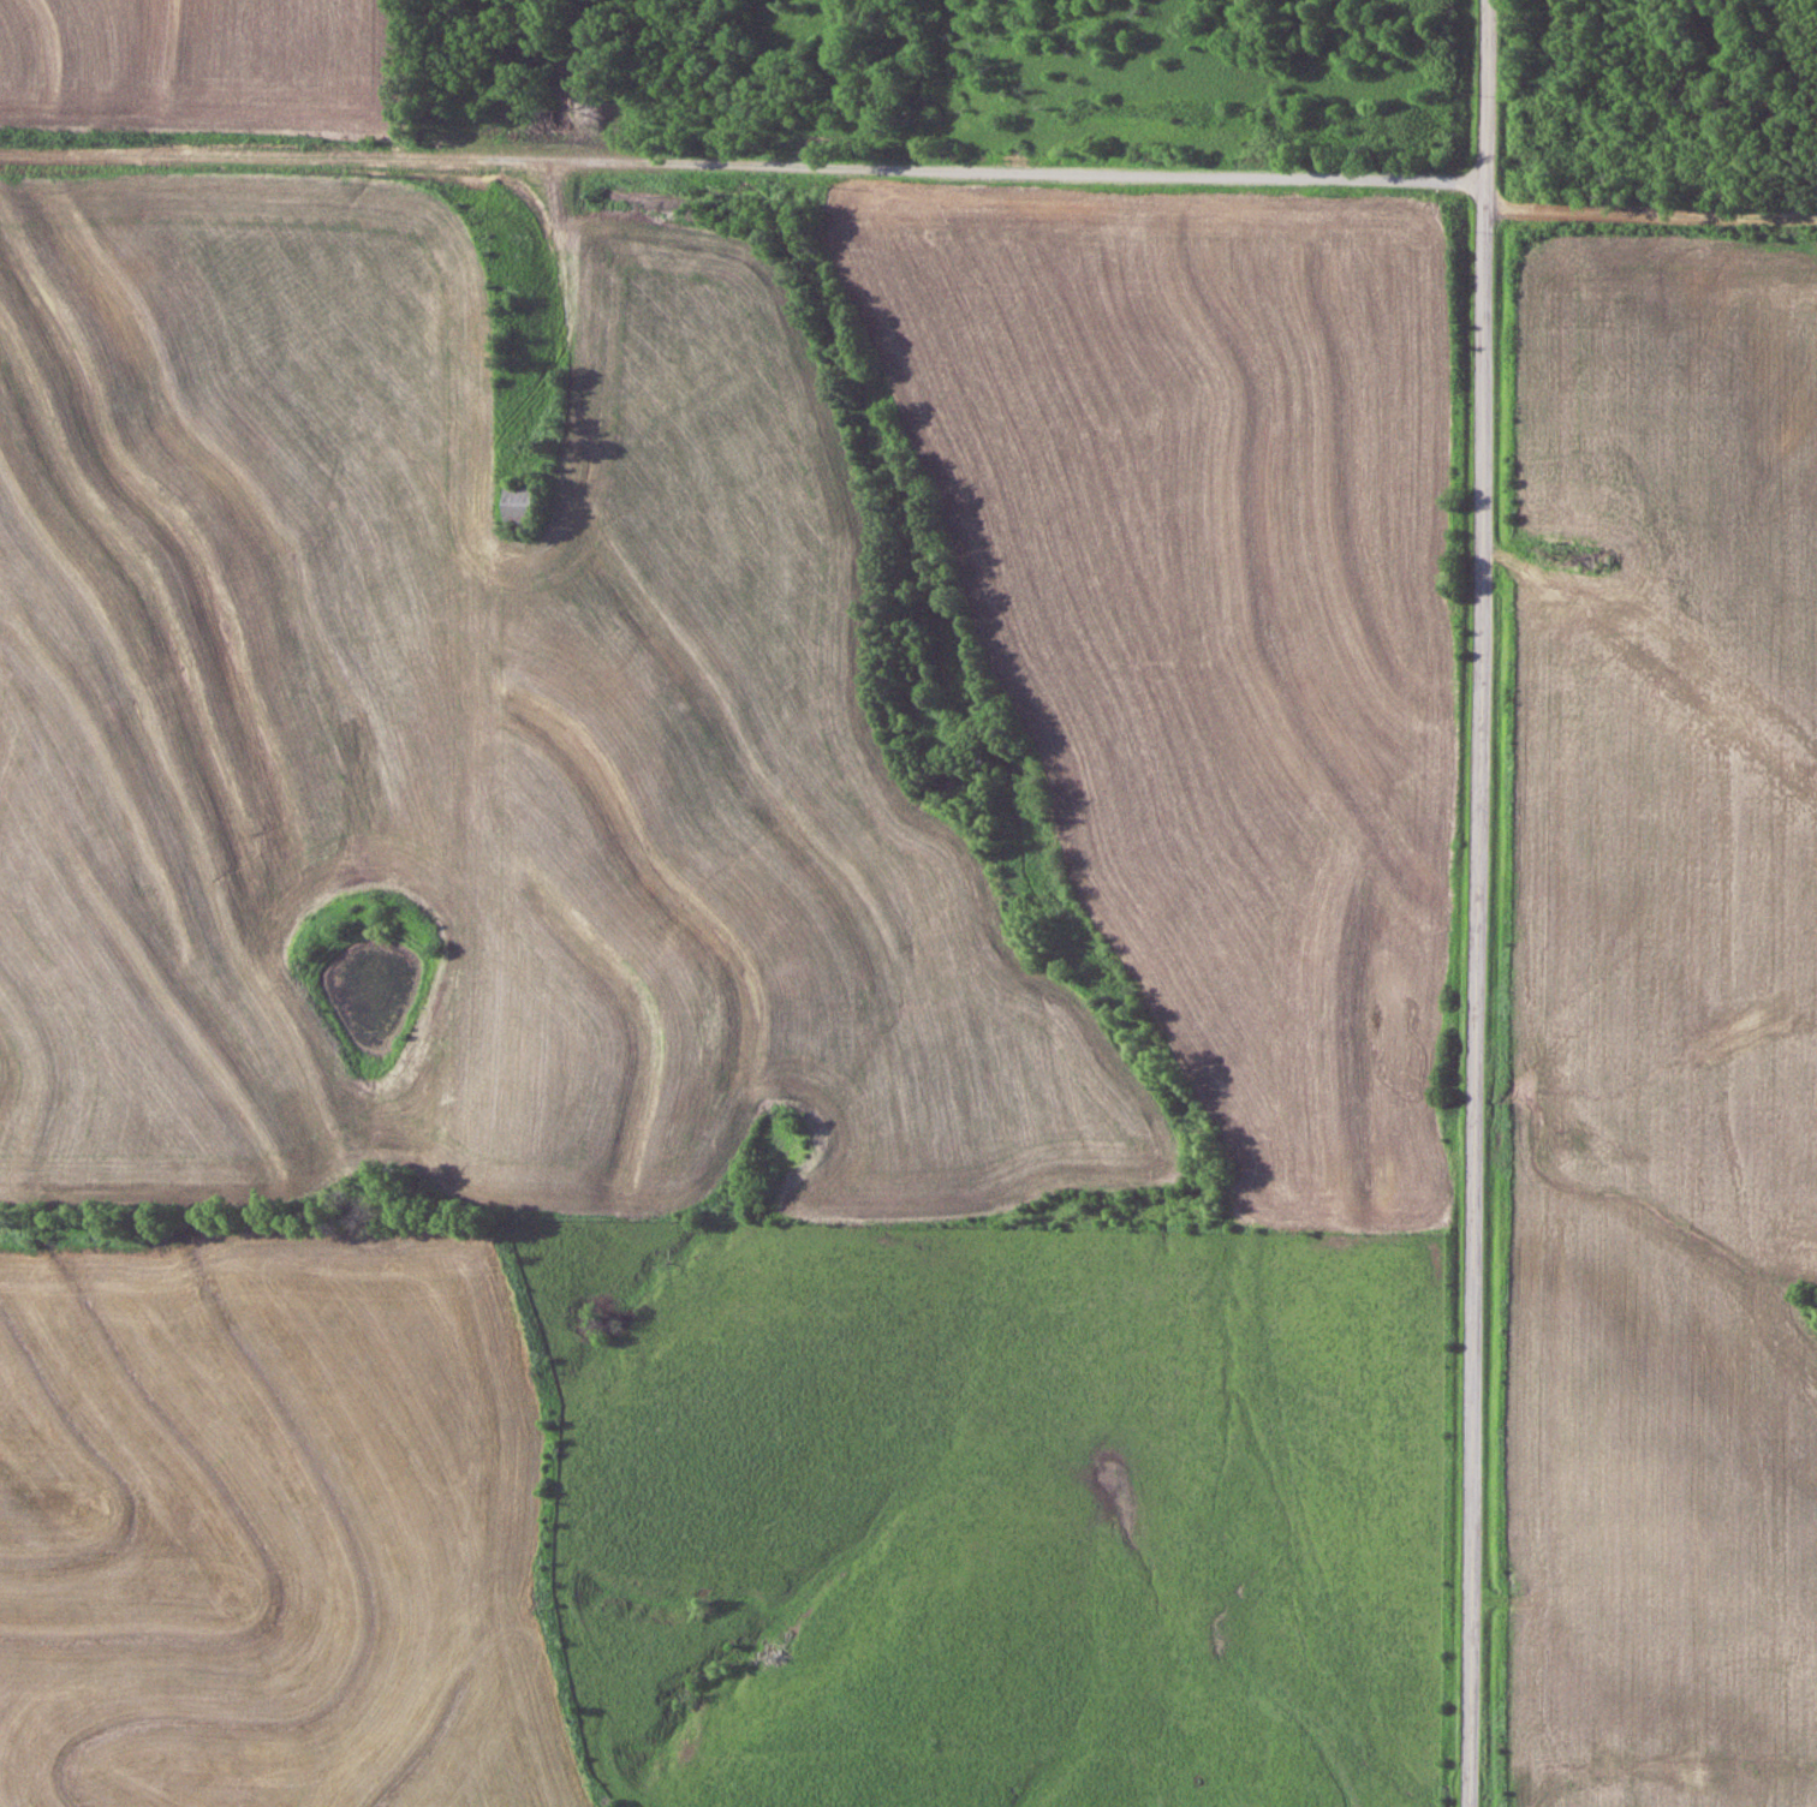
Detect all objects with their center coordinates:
road: (741, 165)
road: (1650, 208)
building: (522, 505)
building: (1688, 642)
road: (1475, 902)

